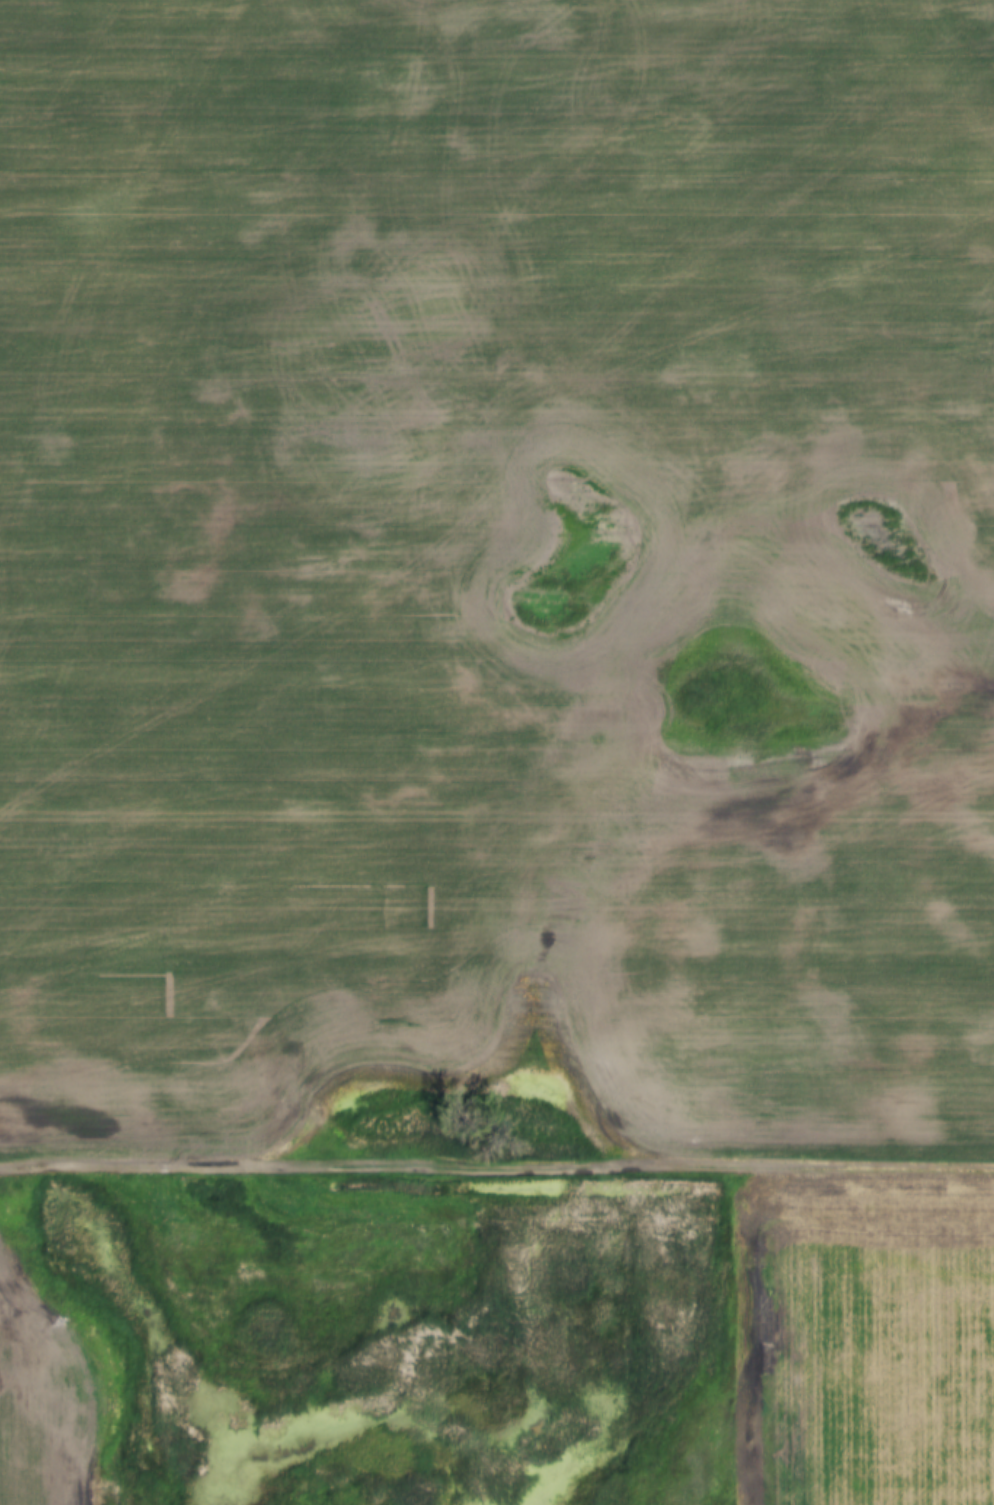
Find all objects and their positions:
road: (497, 1166)

